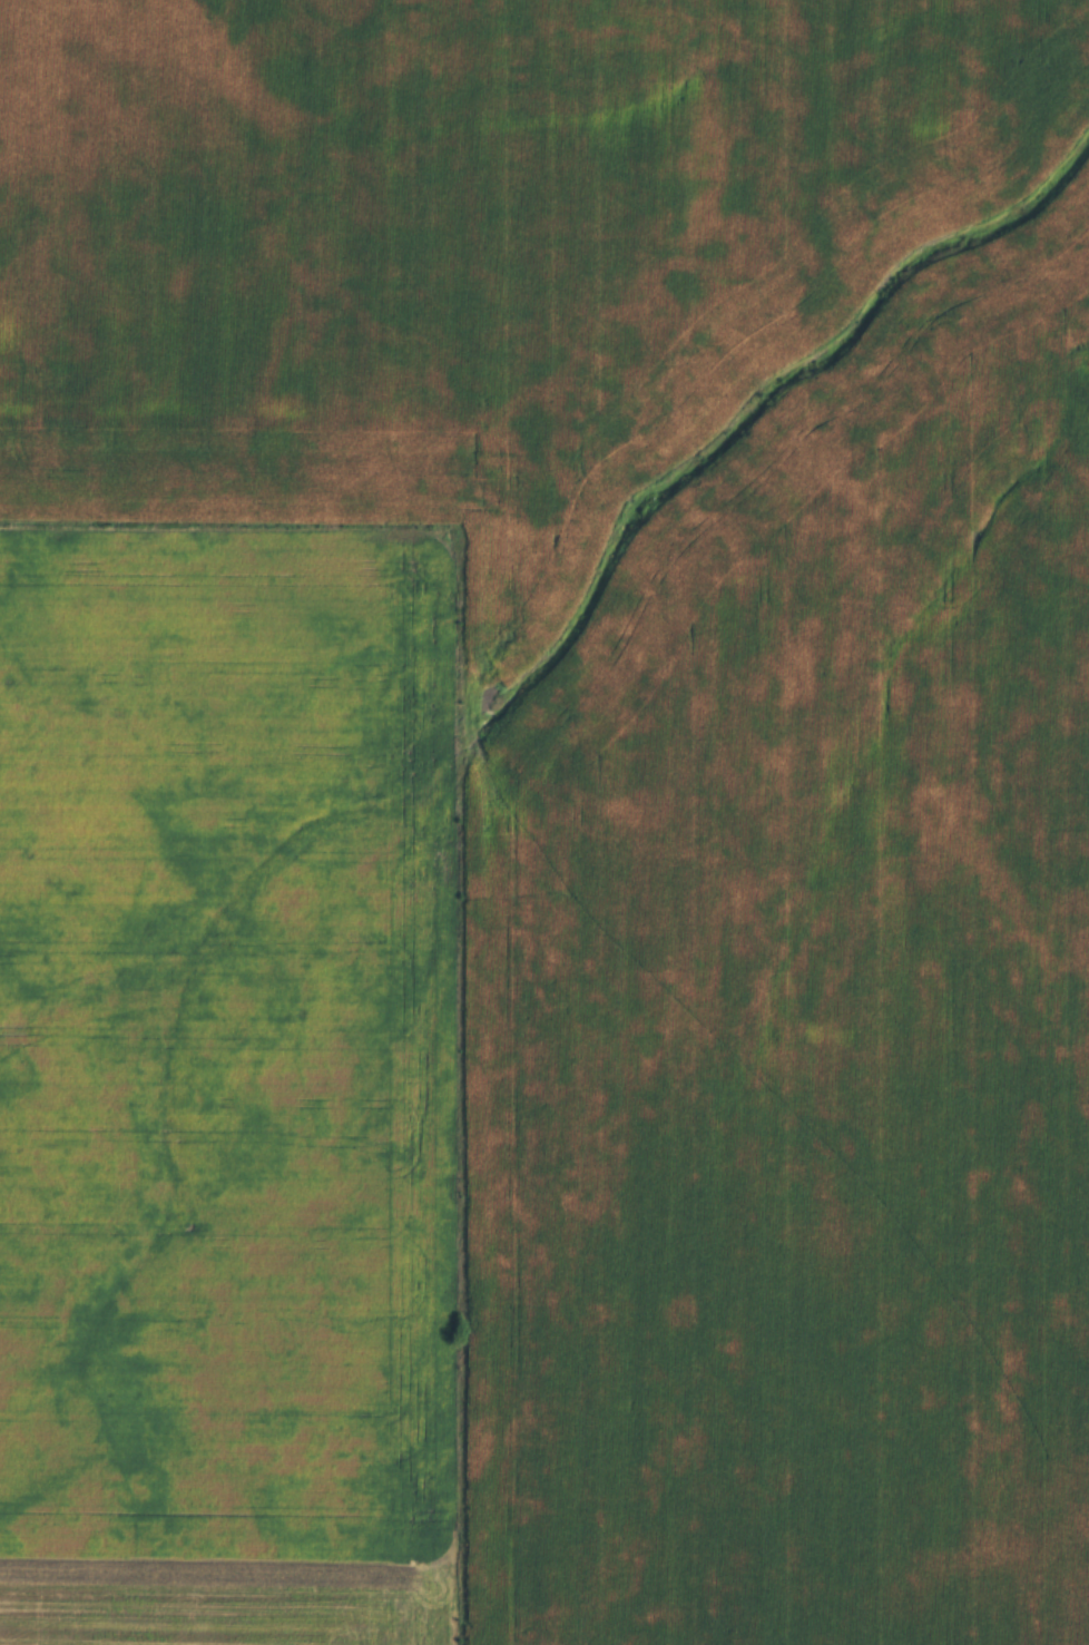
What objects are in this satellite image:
crop: (246, 228)
crop: (229, 1050)
crop: (227, 1606)

